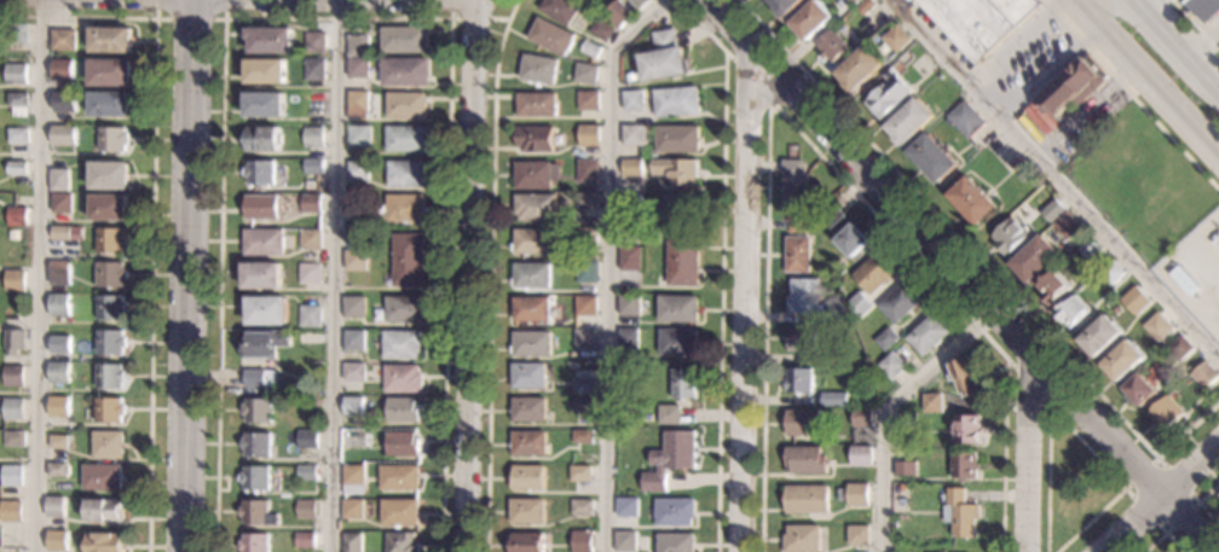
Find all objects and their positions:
building: (580, 0)
building: (853, 2)
building: (637, 4)
road: (1082, 5)
road: (1092, 5)
building: (784, 6)
building: (865, 7)
building: (1207, 8)
building: (560, 10)
building: (617, 14)
road: (187, 18)
road: (335, 18)
road: (476, 19)
building: (809, 21)
building: (980, 22)
road: (1196, 24)
building: (600, 31)
building: (17, 33)
road: (1175, 36)
building: (550, 37)
building: (62, 39)
building: (109, 40)
building: (896, 40)
building: (268, 41)
building: (404, 41)
building: (314, 43)
building: (358, 47)
building: (831, 47)
building: (589, 50)
building: (663, 58)
building: (358, 68)
building: (313, 69)
building: (62, 70)
building: (537, 70)
building: (857, 70)
building: (110, 71)
building: (265, 71)
building: (404, 72)
building: (583, 72)
building: (16, 74)
road: (1214, 77)
building: (942, 80)
road: (1152, 81)
building: (1073, 86)
road: (1130, 95)
building: (886, 97)
road: (762, 100)
building: (631, 101)
building: (64, 103)
building: (110, 103)
building: (587, 103)
building: (674, 103)
building: (18, 104)
building: (405, 105)
building: (266, 106)
building: (356, 106)
building: (535, 106)
building: (965, 121)
building: (908, 123)
building: (17, 135)
building: (63, 135)
building: (588, 135)
building: (359, 136)
building: (632, 136)
building: (313, 138)
building: (112, 139)
building: (405, 139)
building: (535, 139)
road: (802, 139)
building: (262, 140)
building: (675, 140)
building: (931, 159)
building: (313, 167)
building: (16, 168)
building: (630, 168)
building: (358, 170)
building: (585, 172)
building: (675, 172)
building: (260, 174)
building: (406, 174)
building: (109, 175)
building: (535, 175)
road: (1056, 179)
building: (59, 180)
building: (792, 187)
building: (587, 201)
building: (971, 202)
building: (60, 203)
building: (628, 203)
building: (311, 204)
building: (109, 207)
building: (678, 207)
road: (151, 208)
building: (262, 208)
building: (535, 208)
building: (406, 209)
building: (1052, 211)
building: (828, 215)
building: (18, 216)
building: (796, 226)
building: (1065, 226)
building: (60, 232)
building: (15, 236)
building: (585, 238)
building: (1009, 238)
building: (110, 239)
building: (311, 240)
building: (850, 240)
building: (532, 242)
building: (264, 243)
building: (1088, 249)
building: (796, 255)
road: (975, 258)
building: (628, 260)
building: (680, 260)
building: (1034, 260)
building: (356, 261)
building: (408, 261)
road: (606, 266)
road: (720, 267)
building: (59, 272)
building: (585, 273)
building: (1111, 273)
building: (110, 274)
building: (311, 274)
road: (490, 274)
building: (872, 274)
road: (35, 275)
road: (185, 275)
road: (331, 275)
road: (470, 275)
building: (15, 277)
building: (264, 277)
building: (531, 277)
road: (954, 278)
building: (1052, 289)
building: (801, 297)
building: (1136, 300)
building: (60, 304)
building: (899, 304)
road: (747, 306)
building: (110, 307)
building: (354, 307)
building: (585, 307)
building: (628, 307)
building: (859, 308)
building: (267, 310)
building: (400, 310)
building: (531, 310)
building: (676, 310)
building: (836, 312)
building: (1073, 313)
building: (308, 316)
building: (1157, 327)
building: (926, 336)
building: (1100, 337)
building: (583, 338)
building: (804, 338)
building: (625, 339)
building: (884, 339)
building: (110, 341)
building: (15, 342)
building: (352, 342)
building: (266, 343)
building: (676, 343)
building: (850, 343)
building: (59, 344)
building: (401, 344)
building: (531, 344)
building: (1180, 349)
building: (838, 358)
building: (1123, 361)
building: (571, 365)
building: (891, 367)
building: (58, 372)
building: (354, 372)
building: (15, 376)
building: (110, 376)
building: (1204, 376)
building: (528, 377)
building: (965, 377)
building: (255, 378)
building: (403, 378)
building: (798, 382)
road: (1028, 383)
building: (683, 385)
building: (582, 388)
building: (1140, 391)
building: (833, 400)
building: (931, 401)
building: (58, 406)
building: (351, 406)
building: (580, 407)
building: (13, 408)
building: (109, 409)
building: (403, 409)
building: (528, 411)
road: (888, 411)
building: (258, 412)
building: (1165, 414)
building: (668, 416)
building: (862, 418)
building: (801, 423)
road: (1048, 423)
building: (969, 430)
building: (580, 437)
building: (15, 438)
building: (353, 438)
building: (308, 440)
building: (58, 441)
building: (903, 443)
building: (108, 444)
building: (256, 444)
building: (403, 444)
building: (528, 444)
road: (1028, 454)
building: (861, 457)
road: (1157, 458)
building: (668, 460)
building: (804, 461)
building: (965, 466)
building: (57, 469)
building: (906, 471)
building: (307, 472)
building: (12, 473)
building: (579, 473)
building: (100, 476)
building: (255, 478)
building: (399, 478)
building: (526, 478)
building: (353, 480)
park: (1075, 488)
building: (1218, 494)
building: (859, 496)
building: (807, 500)
road: (1162, 501)
road: (1198, 501)
building: (53, 506)
building: (625, 507)
building: (580, 509)
building: (104, 510)
building: (307, 510)
building: (353, 510)
building: (11, 511)
building: (399, 512)
building: (527, 512)
building: (259, 513)
building: (672, 513)
building: (961, 515)
road: (1091, 521)
road: (1165, 531)
building: (857, 536)
building: (802, 539)
building: (56, 540)
building: (306, 541)
building: (580, 541)
building: (623, 541)
building: (104, 542)
building: (352, 542)
building: (403, 542)
building: (526, 542)
building: (254, 544)
building: (674, 544)

